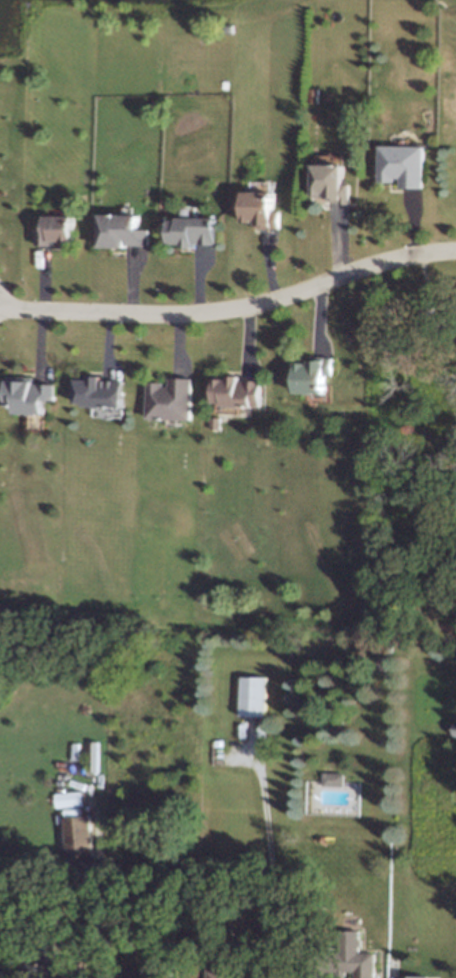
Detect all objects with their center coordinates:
building: (404, 165)
building: (332, 183)
building: (263, 208)
building: (57, 231)
building: (127, 233)
building: (198, 233)
road: (232, 308)
building: (319, 378)
building: (239, 395)
building: (102, 396)
building: (37, 398)
building: (172, 400)
building: (254, 696)
building: (455, 729)
building: (331, 778)
building: (68, 798)
building: (355, 956)
building: (223, 972)
building: (411, 976)

